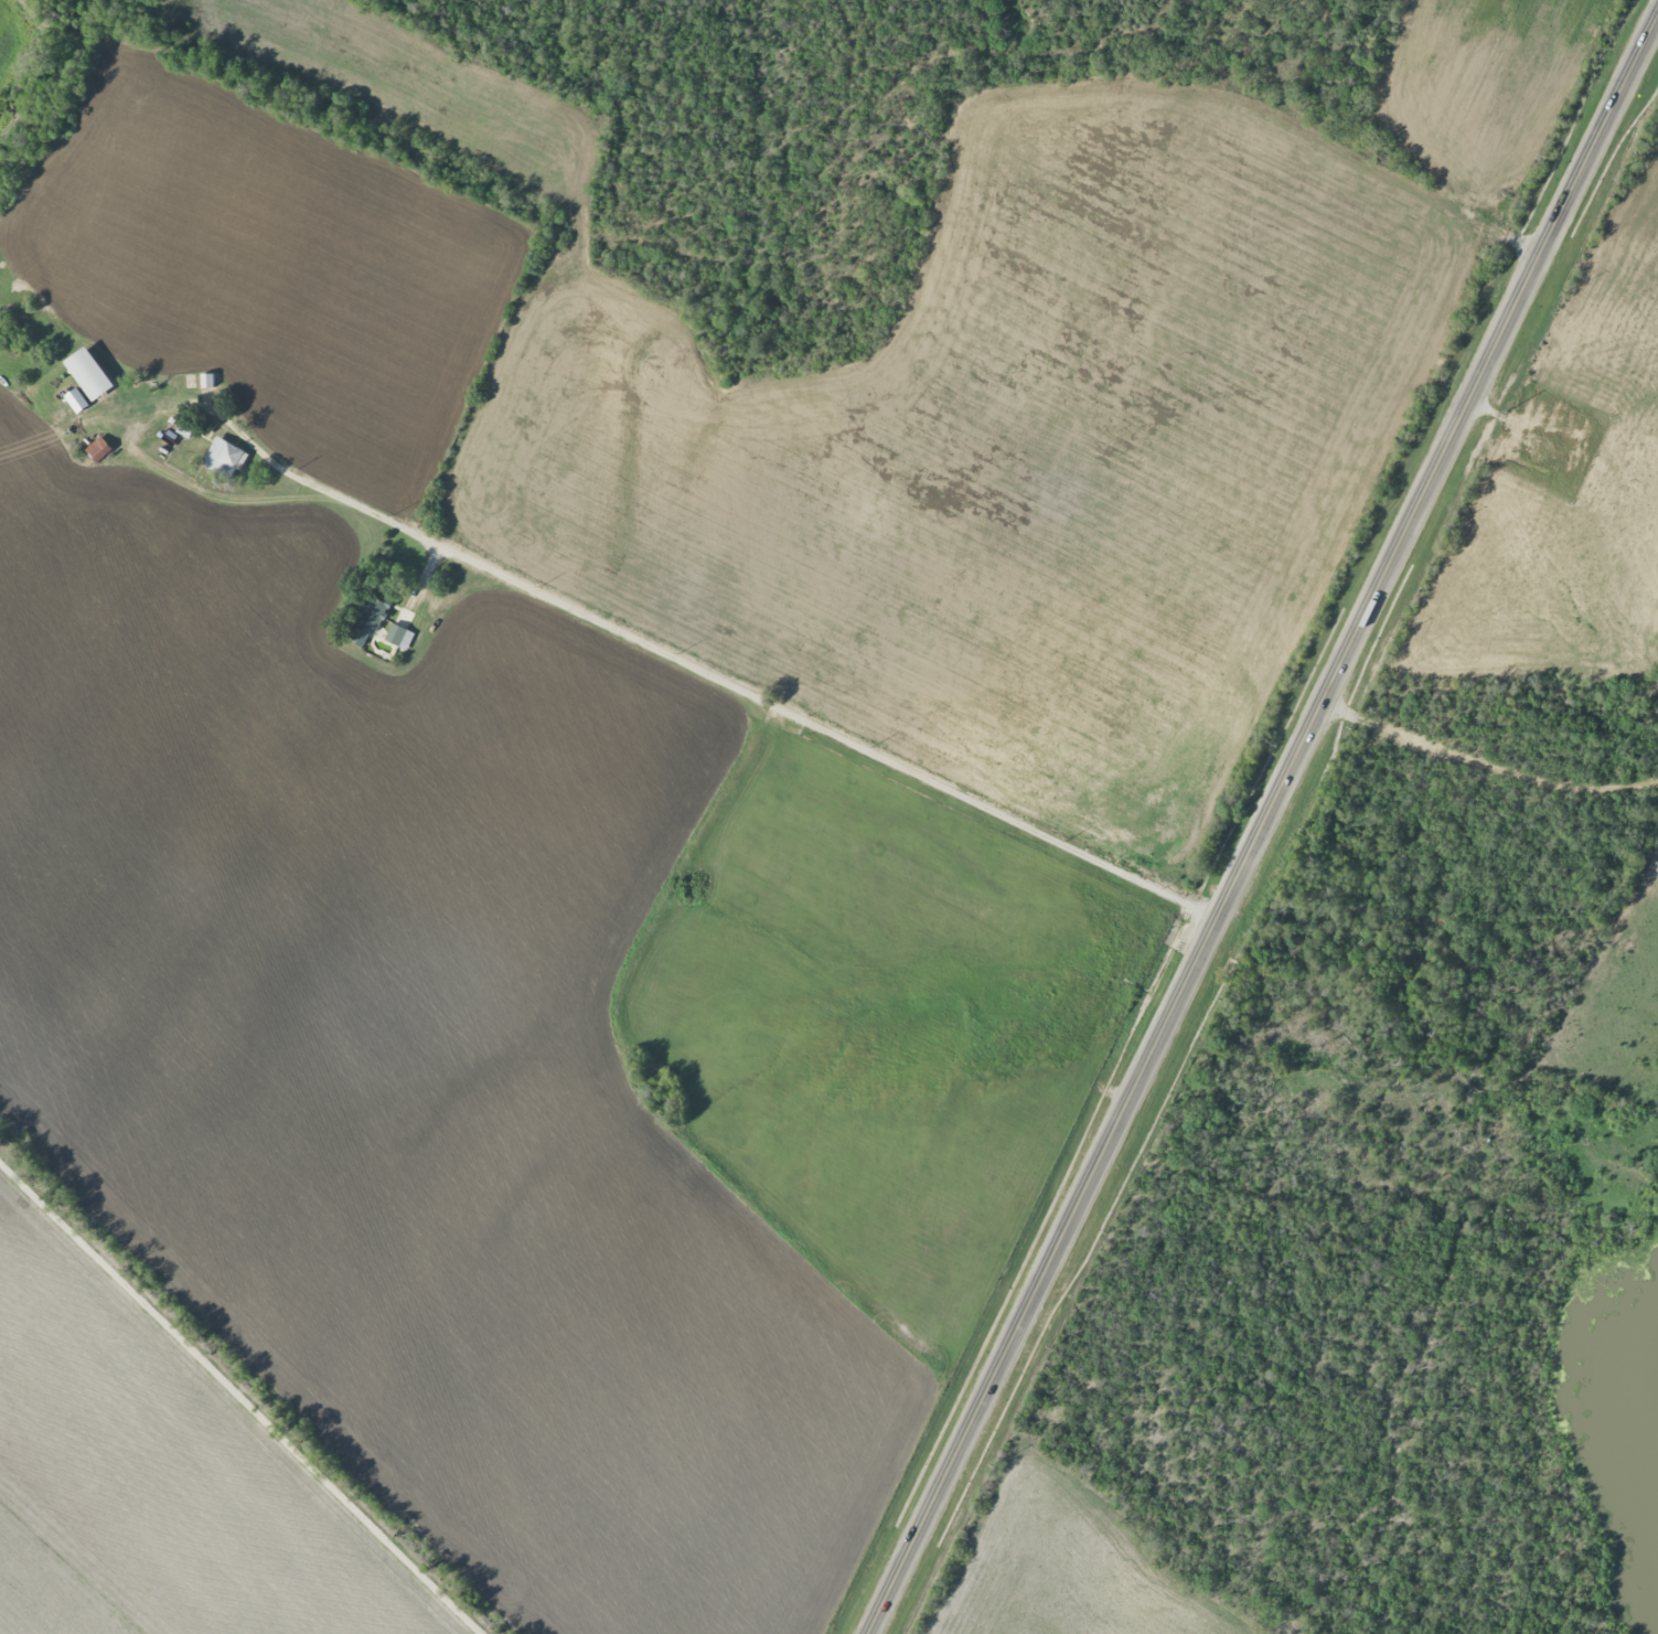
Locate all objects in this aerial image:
building: (89, 374)
building: (77, 401)
building: (98, 449)
building: (224, 458)
building: (370, 619)
building: (398, 636)
road: (657, 652)
road: (1411, 738)
road: (1260, 825)
road: (240, 1397)

